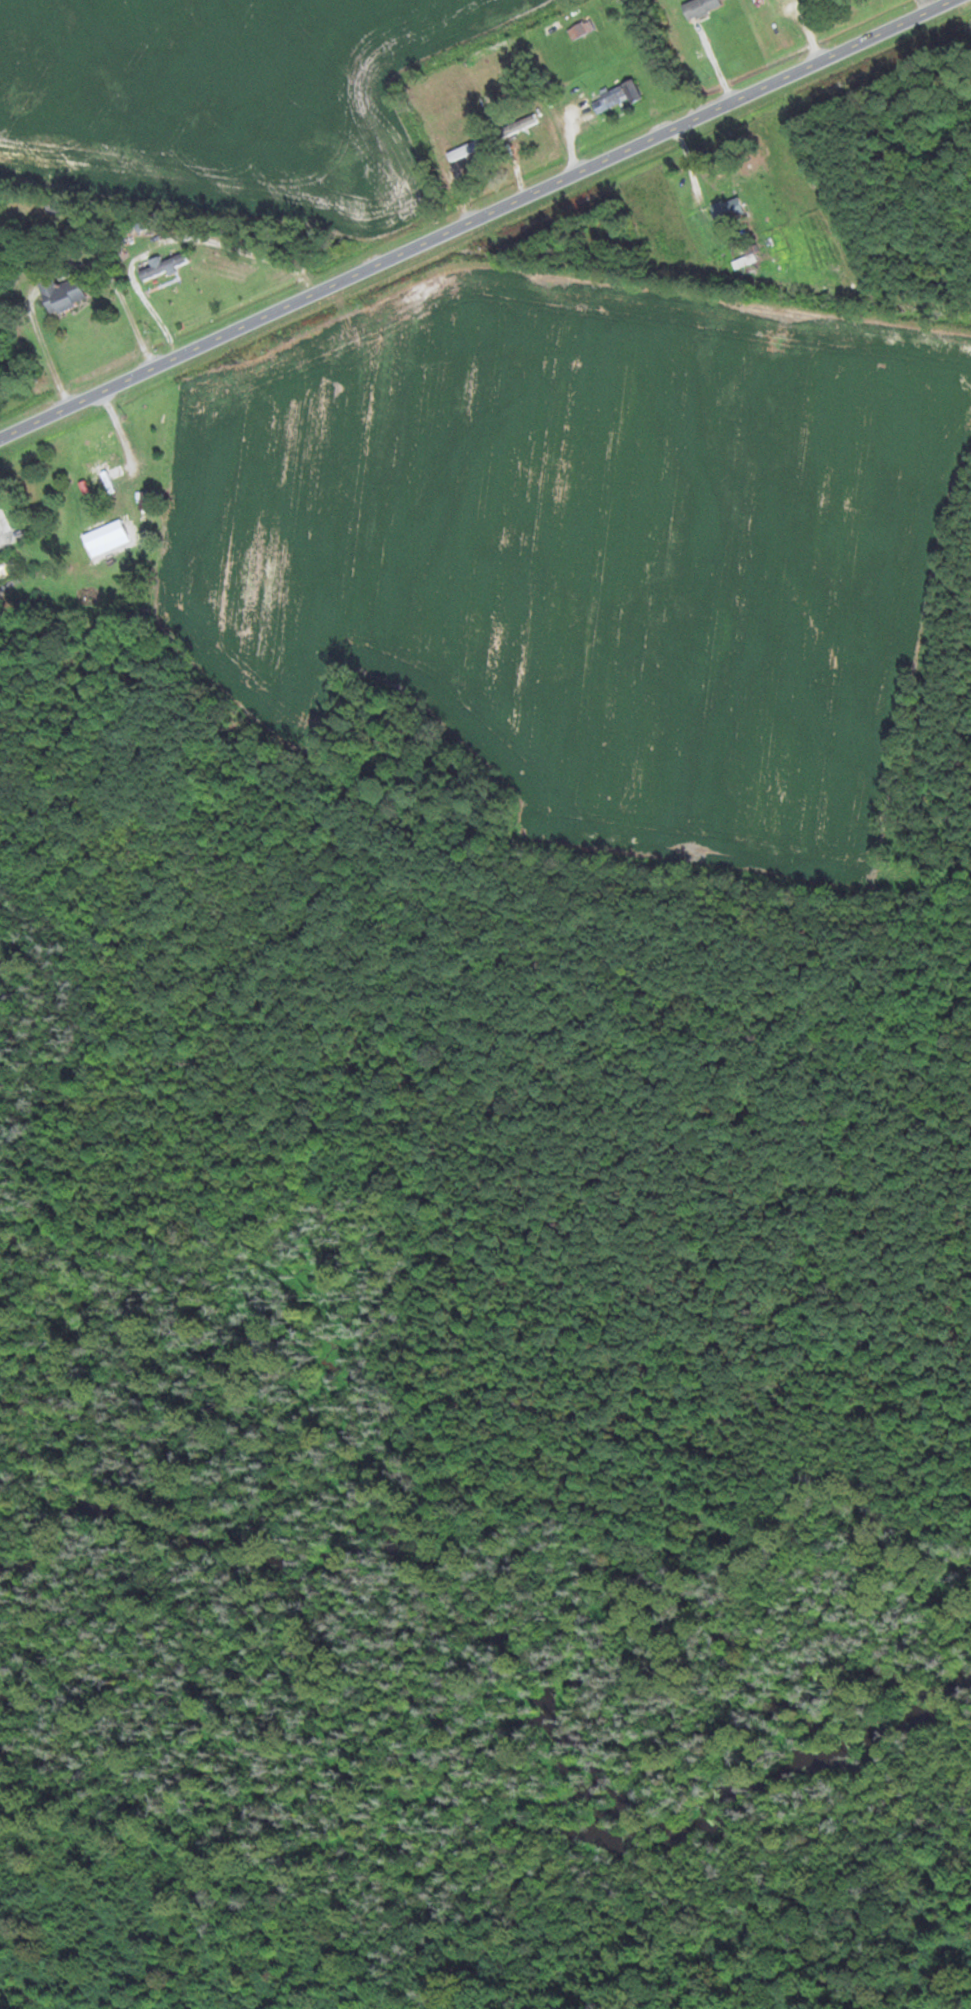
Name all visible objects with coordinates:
road: (929, 5)
building: (699, 8)
building: (581, 29)
building: (615, 96)
road: (586, 169)
building: (727, 209)
building: (163, 266)
building: (61, 294)
road: (110, 388)
building: (98, 471)

